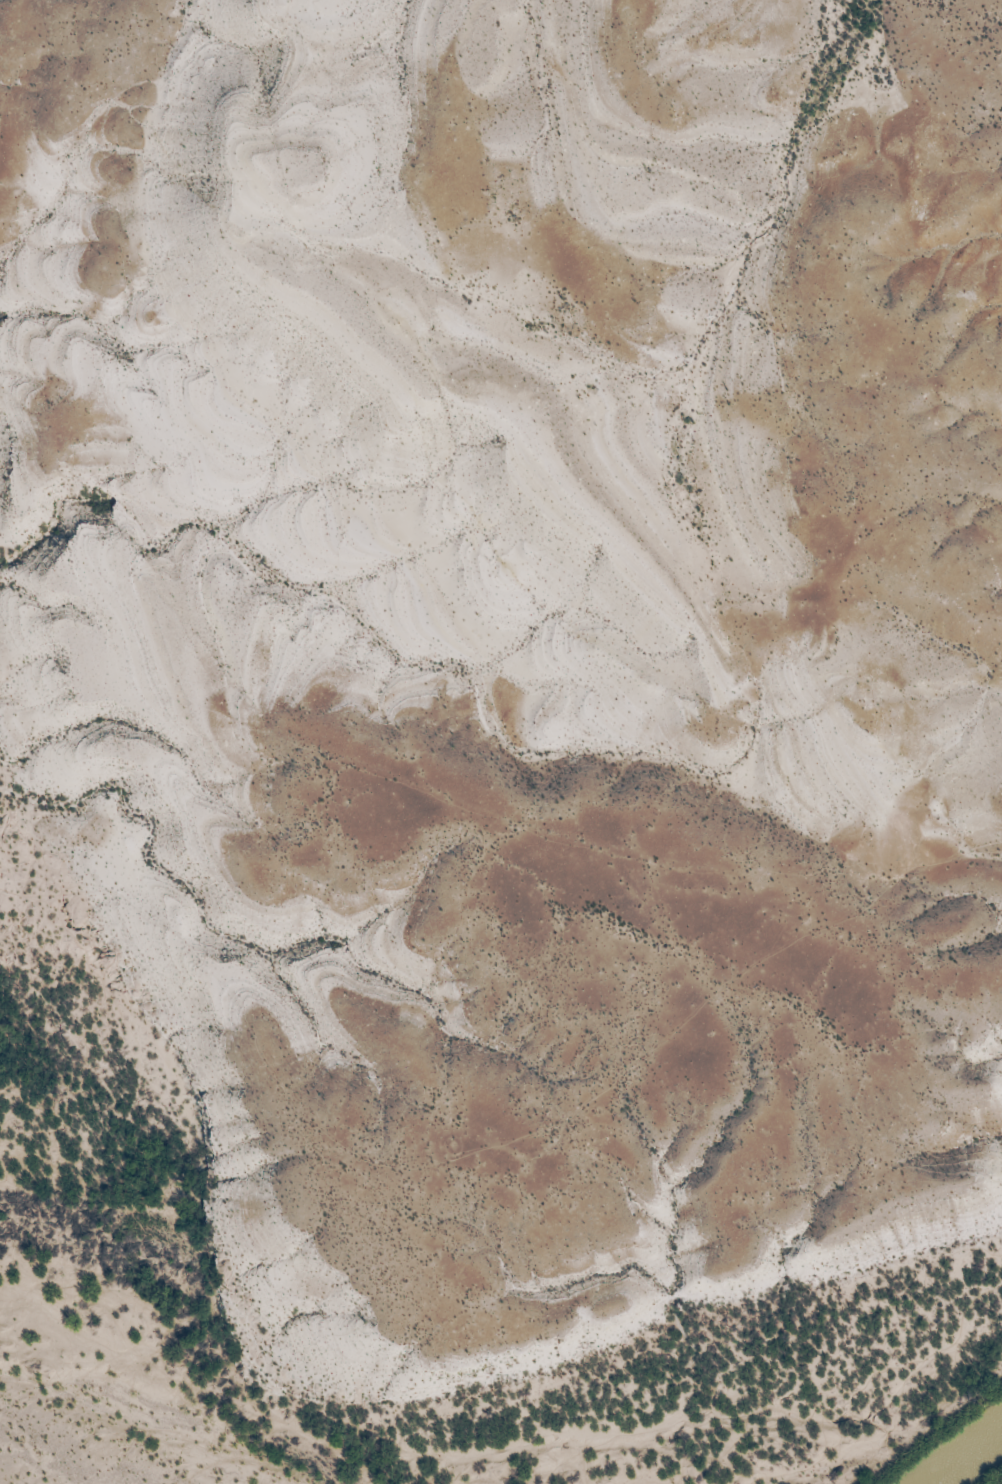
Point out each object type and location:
river: (963, 1455)

